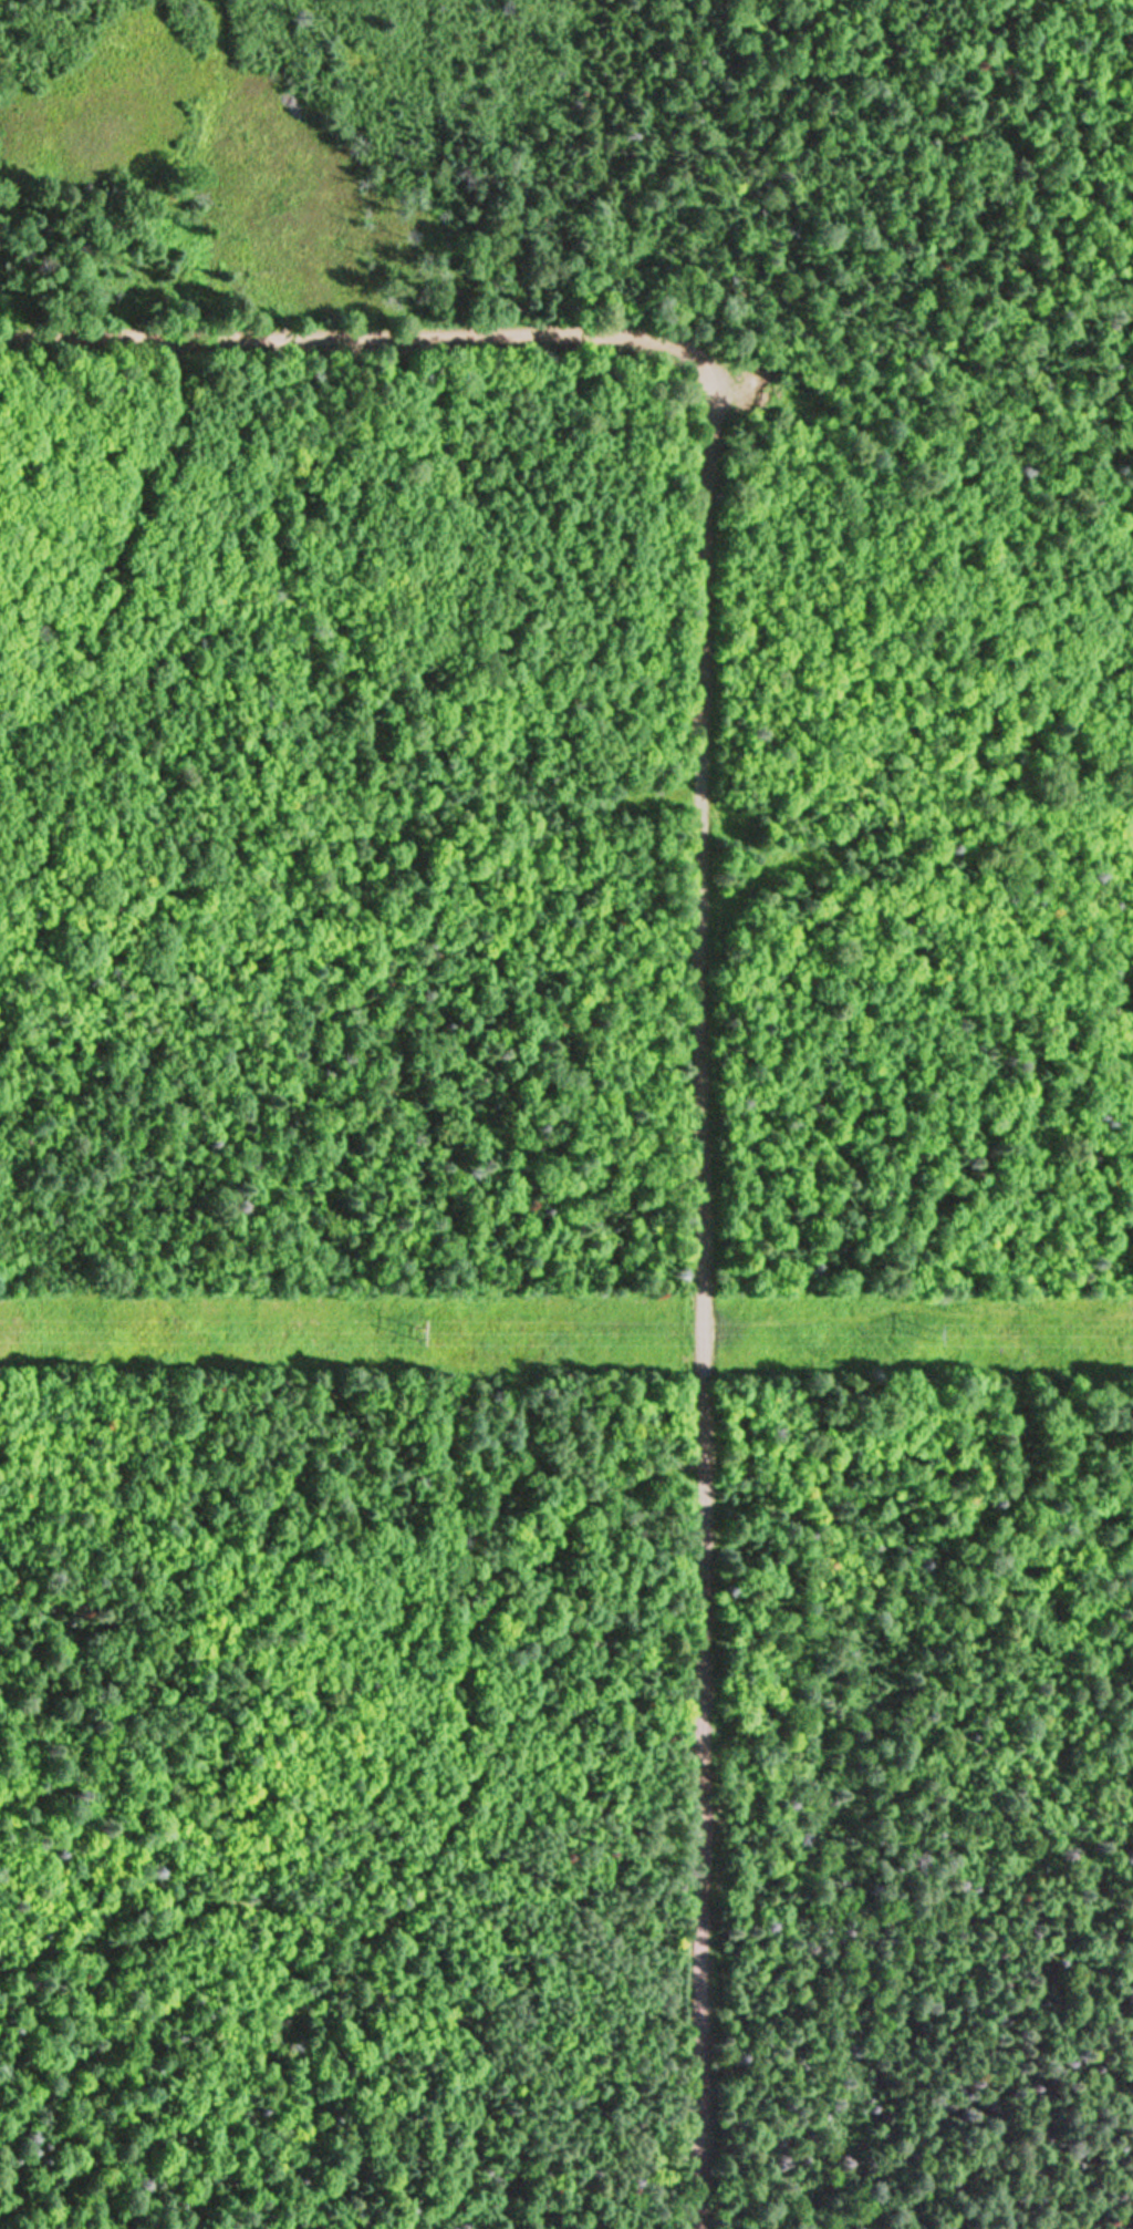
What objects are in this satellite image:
road: (700, 938)
power tower: (403, 1331)
power tower: (928, 1337)

